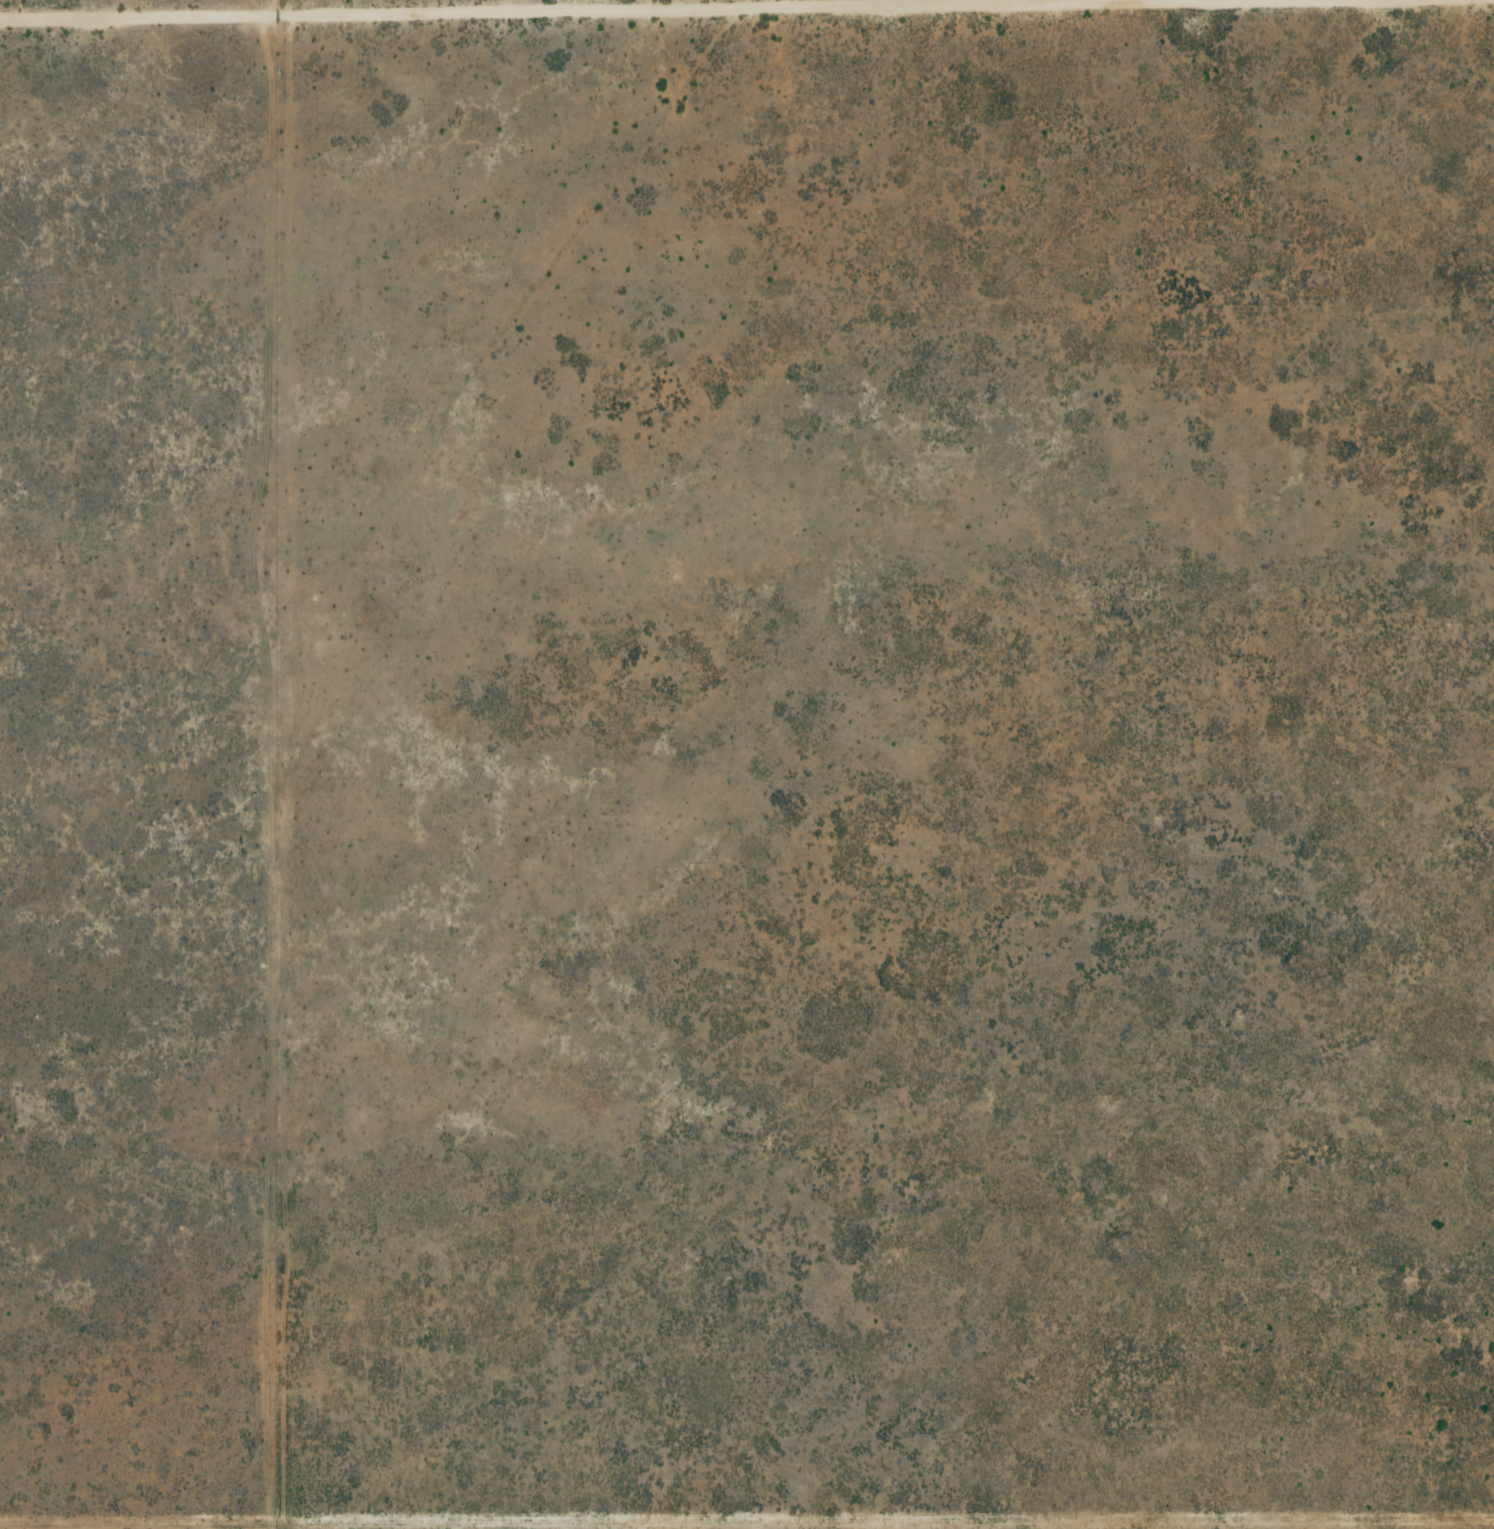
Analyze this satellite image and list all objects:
road: (508, 5)
road: (664, 8)

